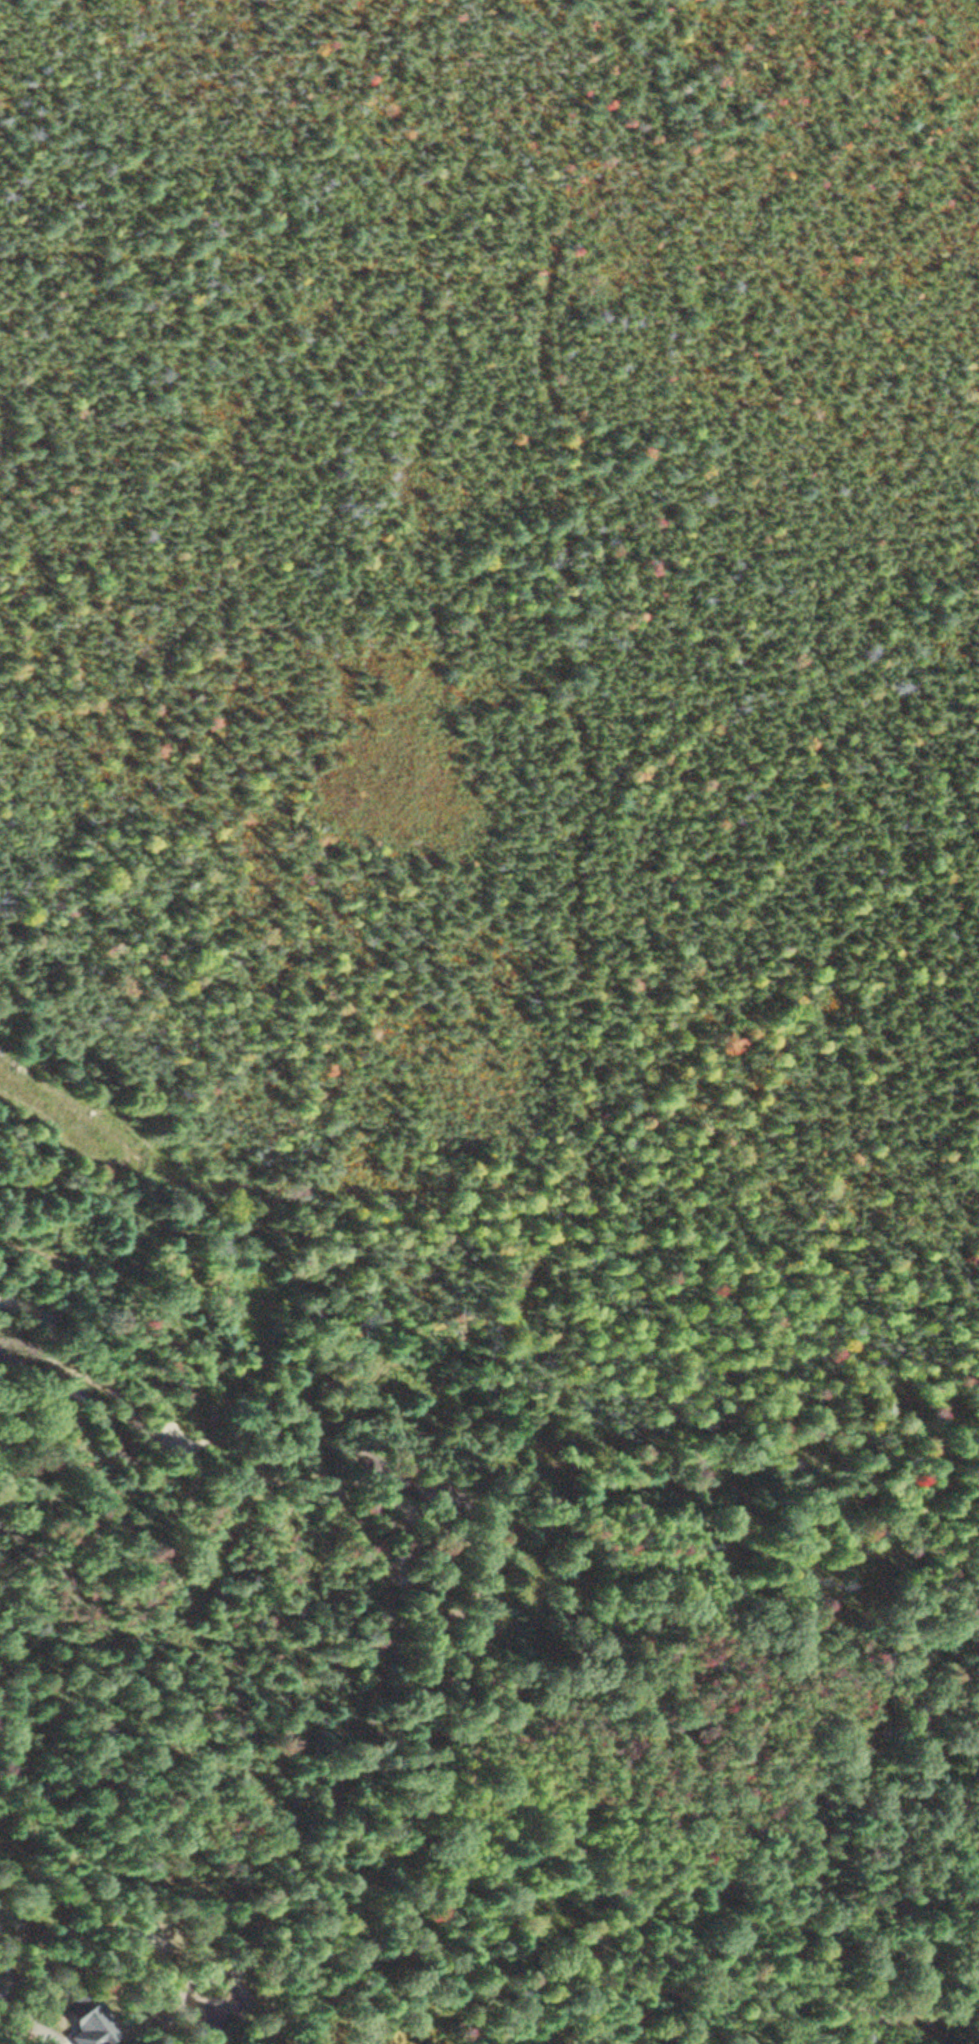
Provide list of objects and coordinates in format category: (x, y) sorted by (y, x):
building: (83, 2020)

